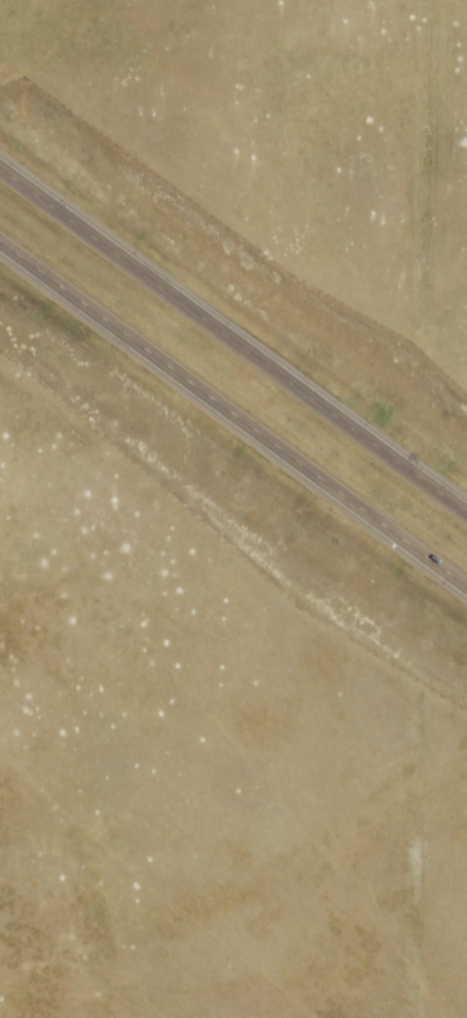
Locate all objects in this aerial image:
road: (233, 339)
road: (233, 412)

